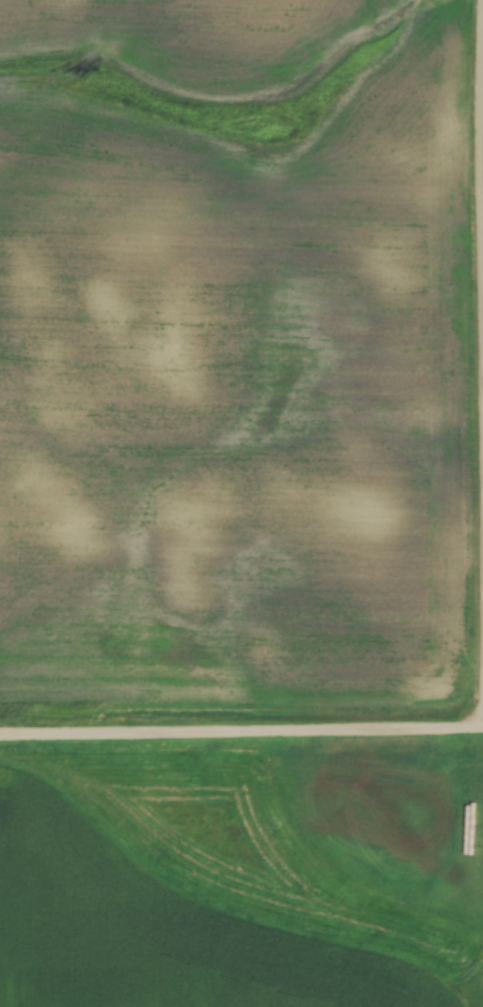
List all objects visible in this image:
road: (478, 256)
road: (482, 674)
road: (241, 728)

